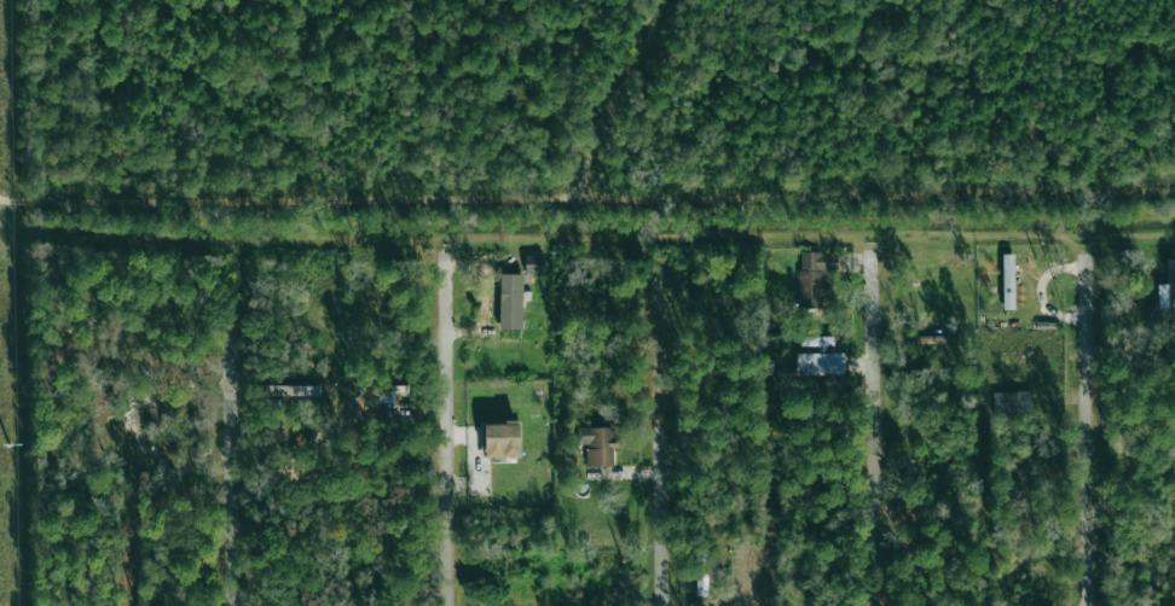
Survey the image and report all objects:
road: (617, 98)
road: (586, 197)
building: (534, 263)
building: (814, 276)
building: (1007, 281)
building: (510, 301)
building: (816, 342)
building: (507, 343)
building: (820, 363)
building: (294, 390)
building: (389, 390)
building: (1012, 402)
road: (872, 427)
road: (1088, 427)
road: (447, 429)
building: (500, 439)
power tower: (7, 445)
building: (597, 445)
road: (661, 447)
road: (233, 468)

